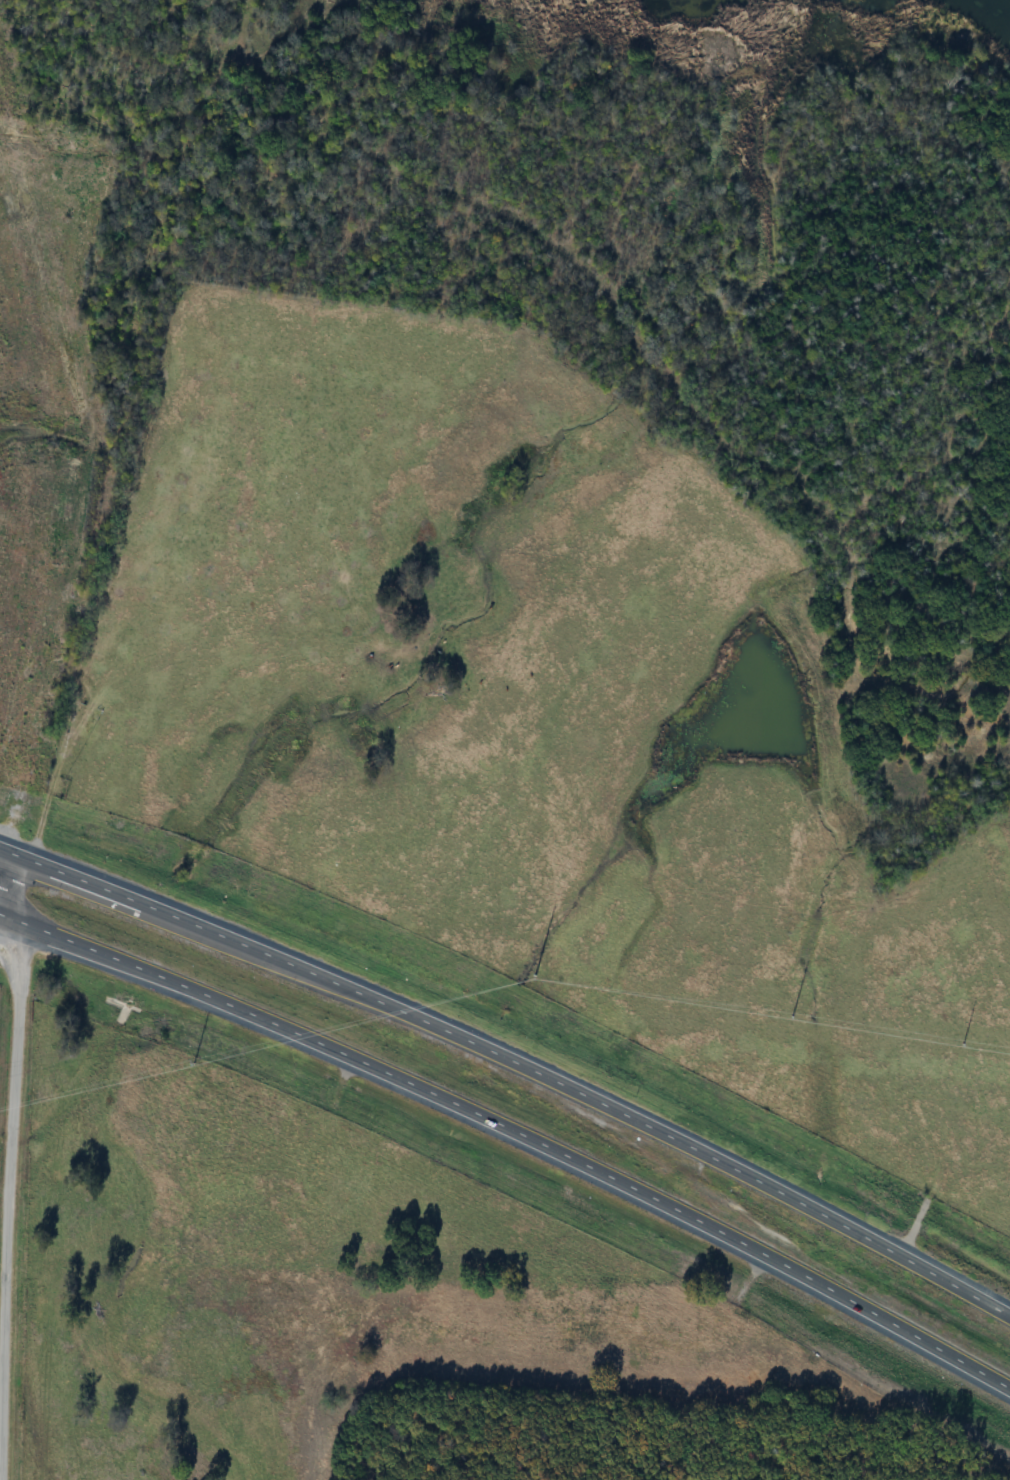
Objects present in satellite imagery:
road: (10, 878)
power tower: (537, 974)
power tower: (793, 1015)
power tower: (963, 1042)
road: (513, 1061)
power tower: (194, 1063)
road: (513, 1132)
road: (11, 1198)

